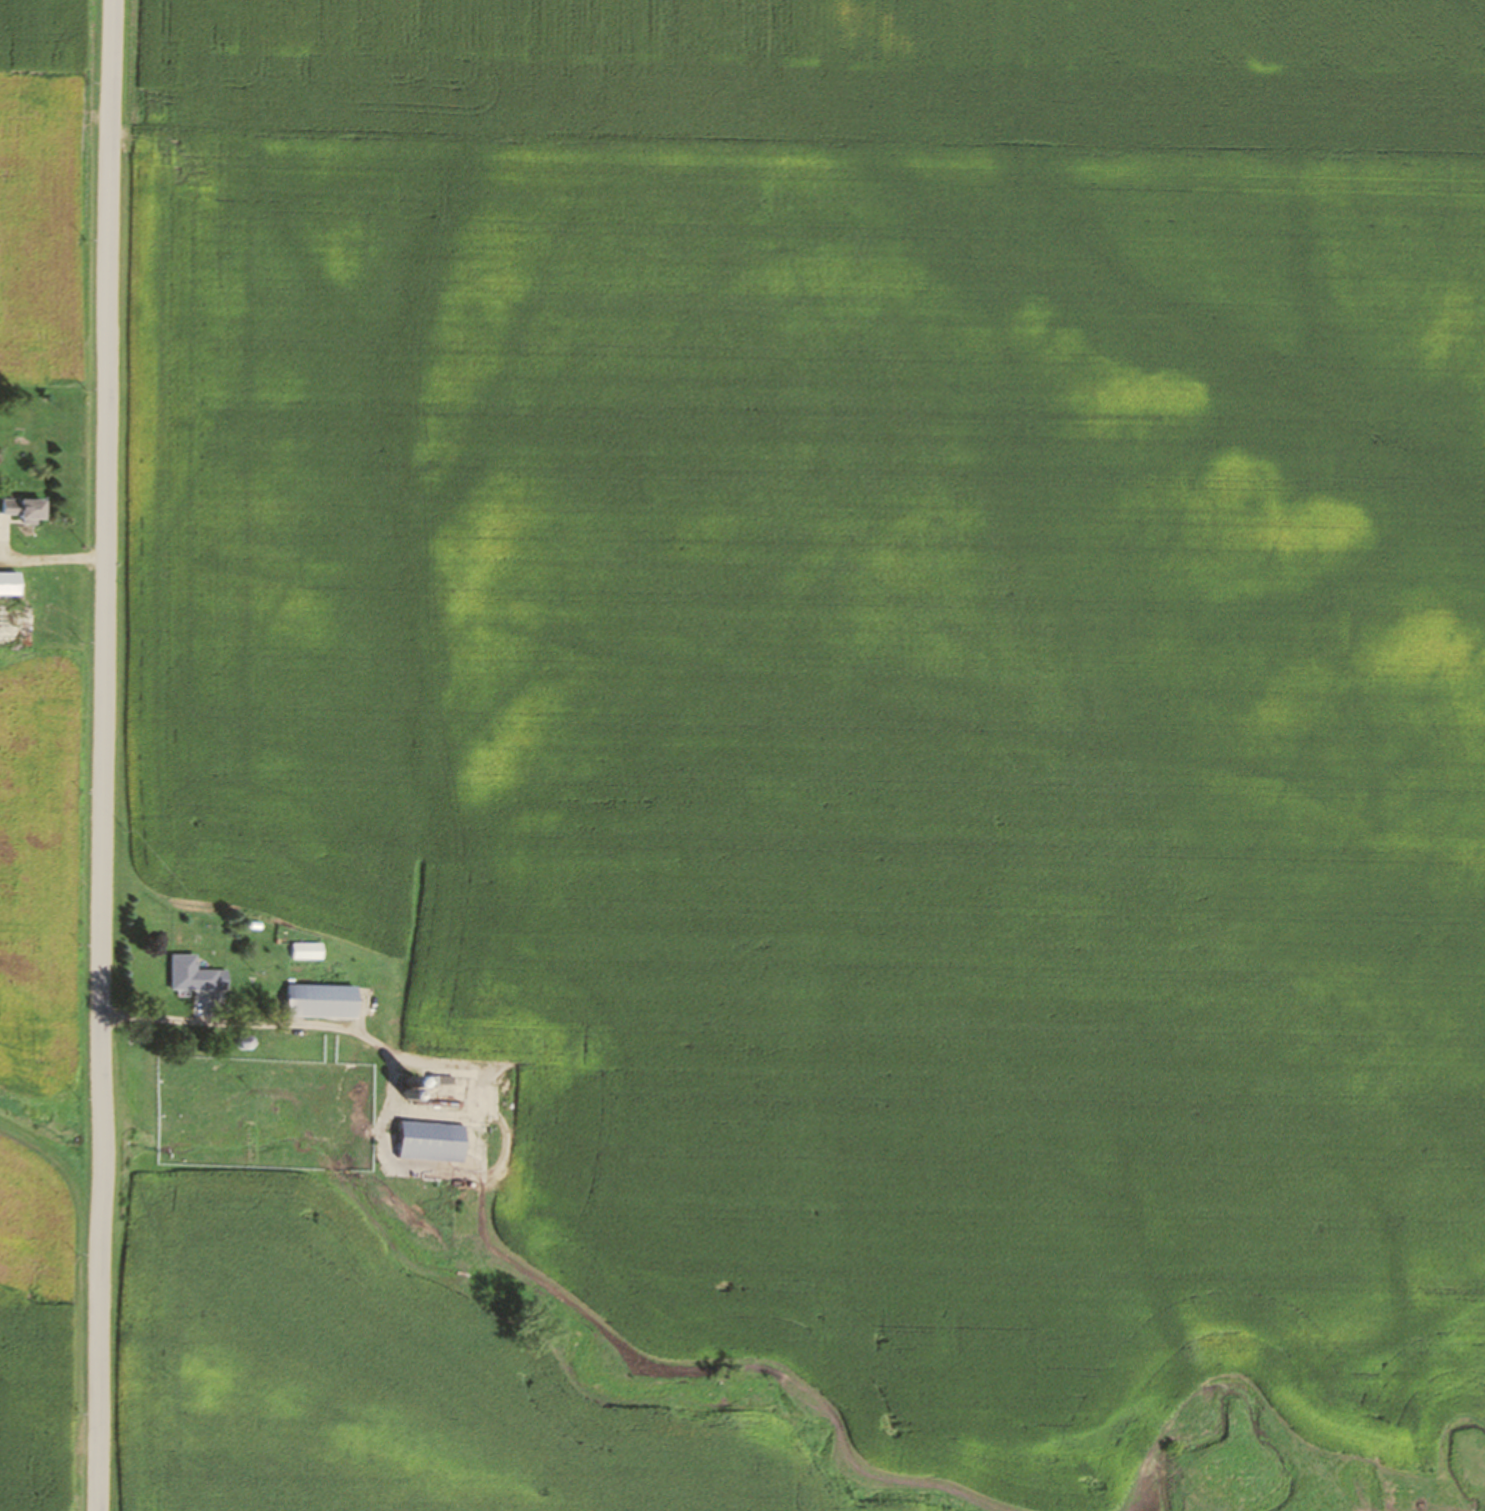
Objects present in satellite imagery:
building: (24, 508)
road: (47, 557)
building: (9, 583)
road: (104, 755)
building: (307, 950)
building: (190, 974)
building: (322, 1001)
building: (246, 1042)
building: (430, 1142)

